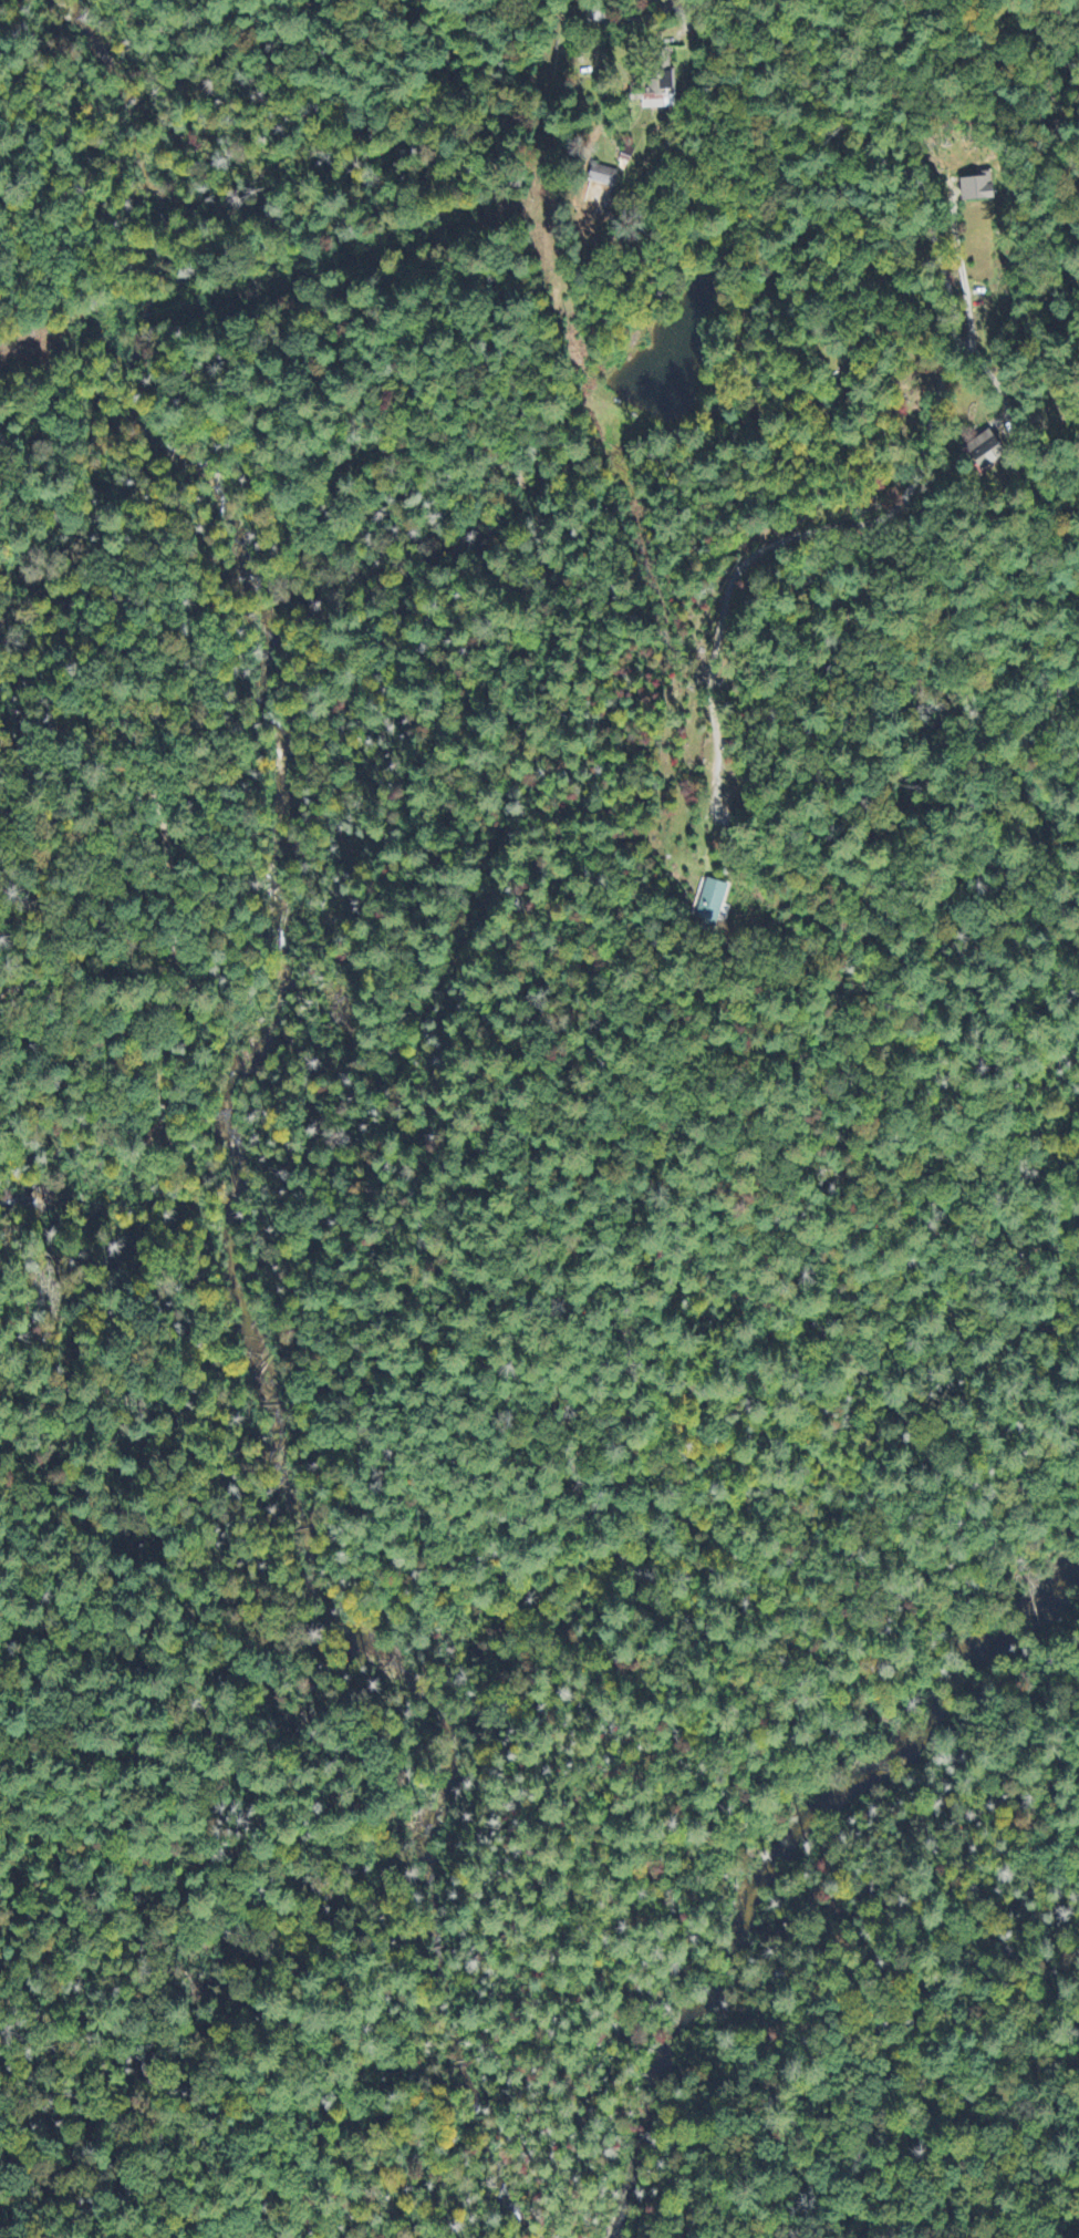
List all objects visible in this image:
road: (841, 28)
building: (606, 177)
building: (979, 189)
road: (940, 359)
building: (989, 451)
building: (717, 904)
river: (776, 1848)

